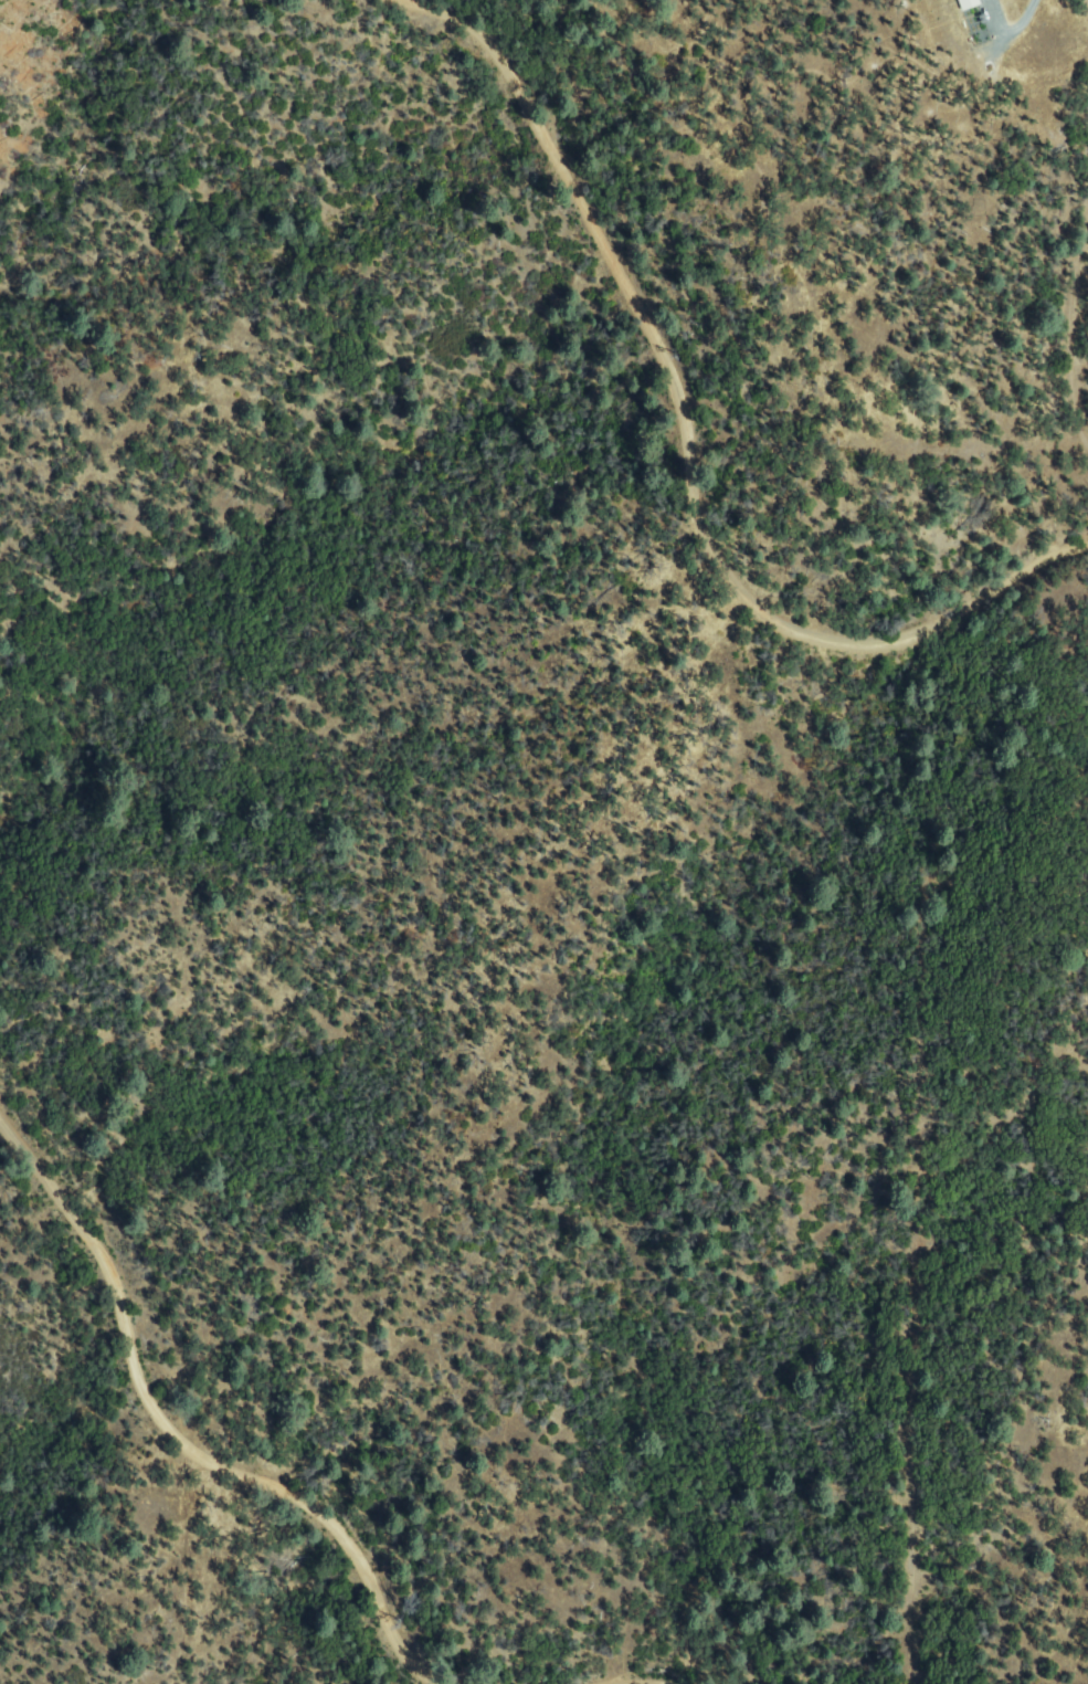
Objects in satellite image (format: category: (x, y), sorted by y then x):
building: (968, 2)
road: (1014, 31)
road: (1076, 333)
road: (691, 441)
road: (173, 1441)

